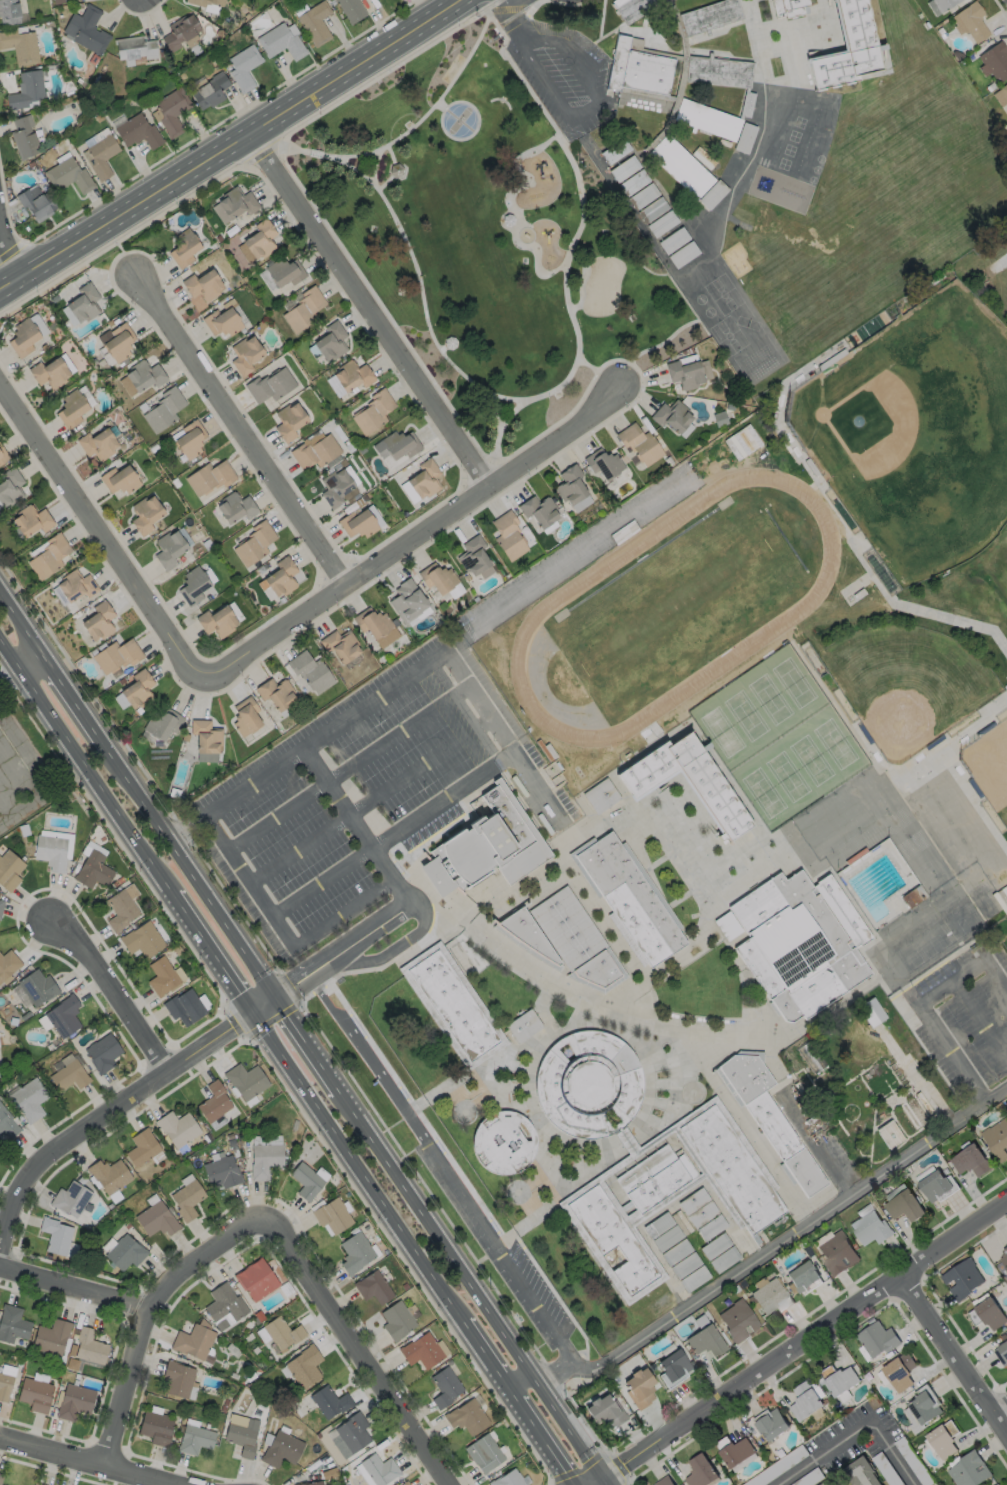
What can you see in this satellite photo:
building: (205, 2)
road: (522, 3)
building: (943, 3)
building: (789, 8)
building: (351, 9)
building: (633, 9)
building: (8, 12)
building: (709, 17)
building: (971, 20)
building: (314, 22)
building: (86, 29)
building: (179, 31)
building: (280, 41)
building: (20, 45)
building: (133, 48)
building: (846, 48)
road: (552, 57)
parking lot: (561, 61)
building: (994, 61)
building: (242, 66)
building: (637, 69)
building: (719, 72)
building: (25, 89)
building: (1004, 89)
building: (210, 91)
road: (442, 106)
building: (171, 110)
park: (461, 119)
building: (707, 120)
building: (137, 132)
building: (23, 136)
road: (230, 144)
building: (101, 156)
road: (376, 166)
building: (624, 168)
building: (396, 169)
building: (681, 169)
road: (393, 170)
building: (68, 176)
building: (634, 182)
building: (643, 196)
building: (36, 203)
building: (233, 204)
building: (653, 209)
road: (513, 210)
building: (507, 219)
road: (579, 234)
building: (259, 239)
park: (491, 239)
building: (183, 247)
road: (121, 250)
road: (10, 252)
building: (283, 271)
building: (202, 284)
park: (603, 284)
building: (83, 303)
road: (373, 306)
building: (302, 309)
building: (221, 321)
building: (22, 337)
building: (330, 341)
building: (118, 342)
building: (451, 343)
building: (245, 354)
road: (637, 359)
building: (49, 372)
building: (683, 373)
building: (143, 374)
building: (351, 375)
building: (270, 385)
building: (71, 408)
building: (163, 409)
building: (372, 411)
road: (513, 411)
building: (670, 415)
building: (289, 421)
road: (500, 428)
road: (242, 430)
park: (915, 438)
building: (189, 439)
building: (638, 443)
building: (97, 444)
building: (396, 445)
building: (314, 450)
building: (3, 455)
building: (602, 463)
building: (209, 477)
building: (119, 479)
building: (423, 479)
building: (569, 485)
building: (9, 487)
building: (334, 488)
building: (357, 503)
building: (234, 508)
building: (538, 511)
building: (147, 515)
building: (30, 520)
building: (356, 524)
road: (98, 533)
building: (508, 536)
road: (410, 538)
building: (253, 544)
park: (1004, 547)
building: (171, 550)
building: (48, 556)
building: (472, 556)
building: (278, 578)
building: (437, 578)
building: (74, 585)
building: (195, 586)
building: (406, 601)
park: (675, 606)
track: (796, 610)
road: (23, 613)
building: (98, 622)
building: (218, 622)
building: (372, 622)
building: (340, 644)
building: (114, 655)
road: (33, 661)
building: (309, 671)
park: (910, 686)
road: (464, 687)
building: (137, 690)
building: (275, 692)
road: (452, 693)
road: (78, 694)
road: (379, 695)
building: (245, 717)
building: (161, 725)
road: (476, 728)
building: (205, 737)
park: (779, 739)
park: (991, 769)
road: (84, 772)
road: (334, 776)
building: (706, 788)
road: (122, 793)
road: (341, 801)
road: (356, 809)
road: (193, 831)
building: (484, 846)
building: (50, 852)
road: (194, 866)
building: (9, 870)
building: (91, 870)
road: (321, 880)
building: (631, 901)
road: (408, 902)
building: (1, 904)
building: (119, 910)
road: (341, 912)
building: (141, 940)
building: (564, 942)
building: (802, 944)
road: (209, 955)
building: (7, 965)
building: (161, 977)
building: (36, 987)
road: (284, 989)
traffic signals: (279, 992)
road: (109, 995)
road: (920, 1002)
building: (183, 1007)
building: (453, 1007)
building: (872, 1011)
traffic signals: (249, 1013)
building: (62, 1016)
road: (979, 1021)
road: (663, 1024)
building: (523, 1028)
road: (311, 1040)
building: (101, 1053)
road: (370, 1060)
building: (68, 1075)
building: (244, 1081)
building: (589, 1087)
road: (995, 1093)
building: (28, 1100)
building: (212, 1102)
road: (114, 1107)
building: (770, 1120)
building: (7, 1123)
building: (176, 1128)
building: (996, 1140)
building: (503, 1145)
building: (140, 1148)
building: (264, 1161)
building: (969, 1161)
building: (732, 1170)
building: (221, 1172)
building: (107, 1175)
building: (305, 1181)
building: (651, 1181)
building: (933, 1186)
building: (69, 1199)
building: (186, 1199)
building: (692, 1201)
building: (903, 1207)
road: (379, 1208)
building: (701, 1214)
building: (331, 1216)
building: (155, 1219)
building: (657, 1225)
building: (710, 1227)
building: (868, 1229)
building: (55, 1235)
building: (666, 1238)
building: (612, 1240)
road: (776, 1244)
building: (714, 1246)
building: (124, 1252)
building: (674, 1252)
building: (354, 1253)
building: (835, 1254)
building: (1003, 1258)
building: (723, 1259)
road: (199, 1260)
road: (507, 1264)
building: (684, 1265)
building: (801, 1277)
building: (693, 1279)
building: (255, 1280)
building: (961, 1280)
road: (475, 1282)
building: (372, 1288)
road: (75, 1292)
building: (770, 1298)
building: (223, 1304)
building: (989, 1314)
building: (396, 1321)
building: (737, 1322)
building: (12, 1324)
building: (281, 1333)
building: (51, 1338)
building: (876, 1338)
building: (194, 1342)
building: (705, 1342)
road: (800, 1345)
building: (89, 1347)
road: (355, 1348)
road: (490, 1349)
building: (421, 1351)
road: (956, 1352)
building: (1001, 1355)
building: (303, 1367)
building: (672, 1370)
building: (893, 1372)
building: (836, 1378)
building: (176, 1379)
building: (4, 1387)
building: (445, 1387)
road: (128, 1389)
building: (638, 1390)
building: (35, 1395)
building: (802, 1400)
building: (74, 1402)
building: (329, 1402)
building: (920, 1408)
road: (1001, 1410)
building: (604, 1413)
building: (466, 1417)
building: (768, 1423)
building: (155, 1428)
road: (854, 1432)
building: (352, 1433)
building: (942, 1438)
building: (241, 1439)
building: (194, 1440)
road: (536, 1444)
building: (281, 1449)
building: (734, 1451)
building: (483, 1454)
road: (84, 1461)
building: (777, 1467)
building: (378, 1469)
building: (967, 1470)
building: (699, 1471)
building: (860, 1472)
building: (0, 1475)
traffic signals: (605, 1478)
building: (507, 1479)
road: (607, 1481)
building: (662, 1481)
building: (825, 1482)
building: (36, 1483)
building: (312, 1483)
building: (404, 1483)
building: (1, 1484)
building: (294, 1484)
building: (406, 1484)
building: (995, 1484)
building: (997, 1484)

